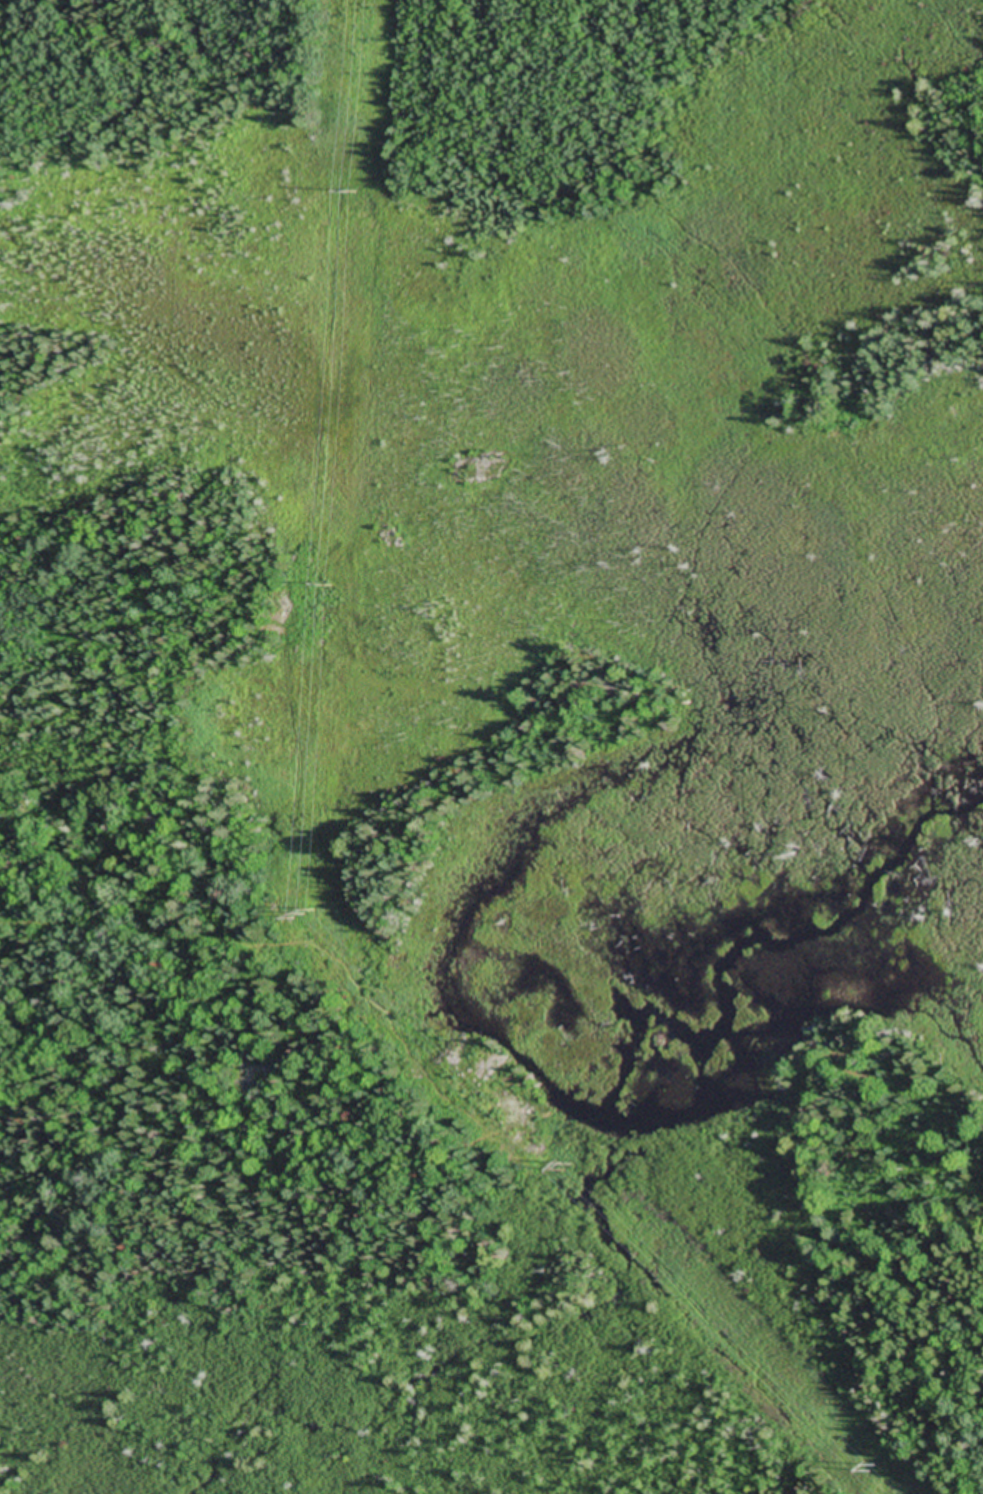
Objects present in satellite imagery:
power tower: (352, 192)
power tower: (327, 587)
power tower: (306, 916)
power tower: (568, 1169)
power tower: (873, 1470)

